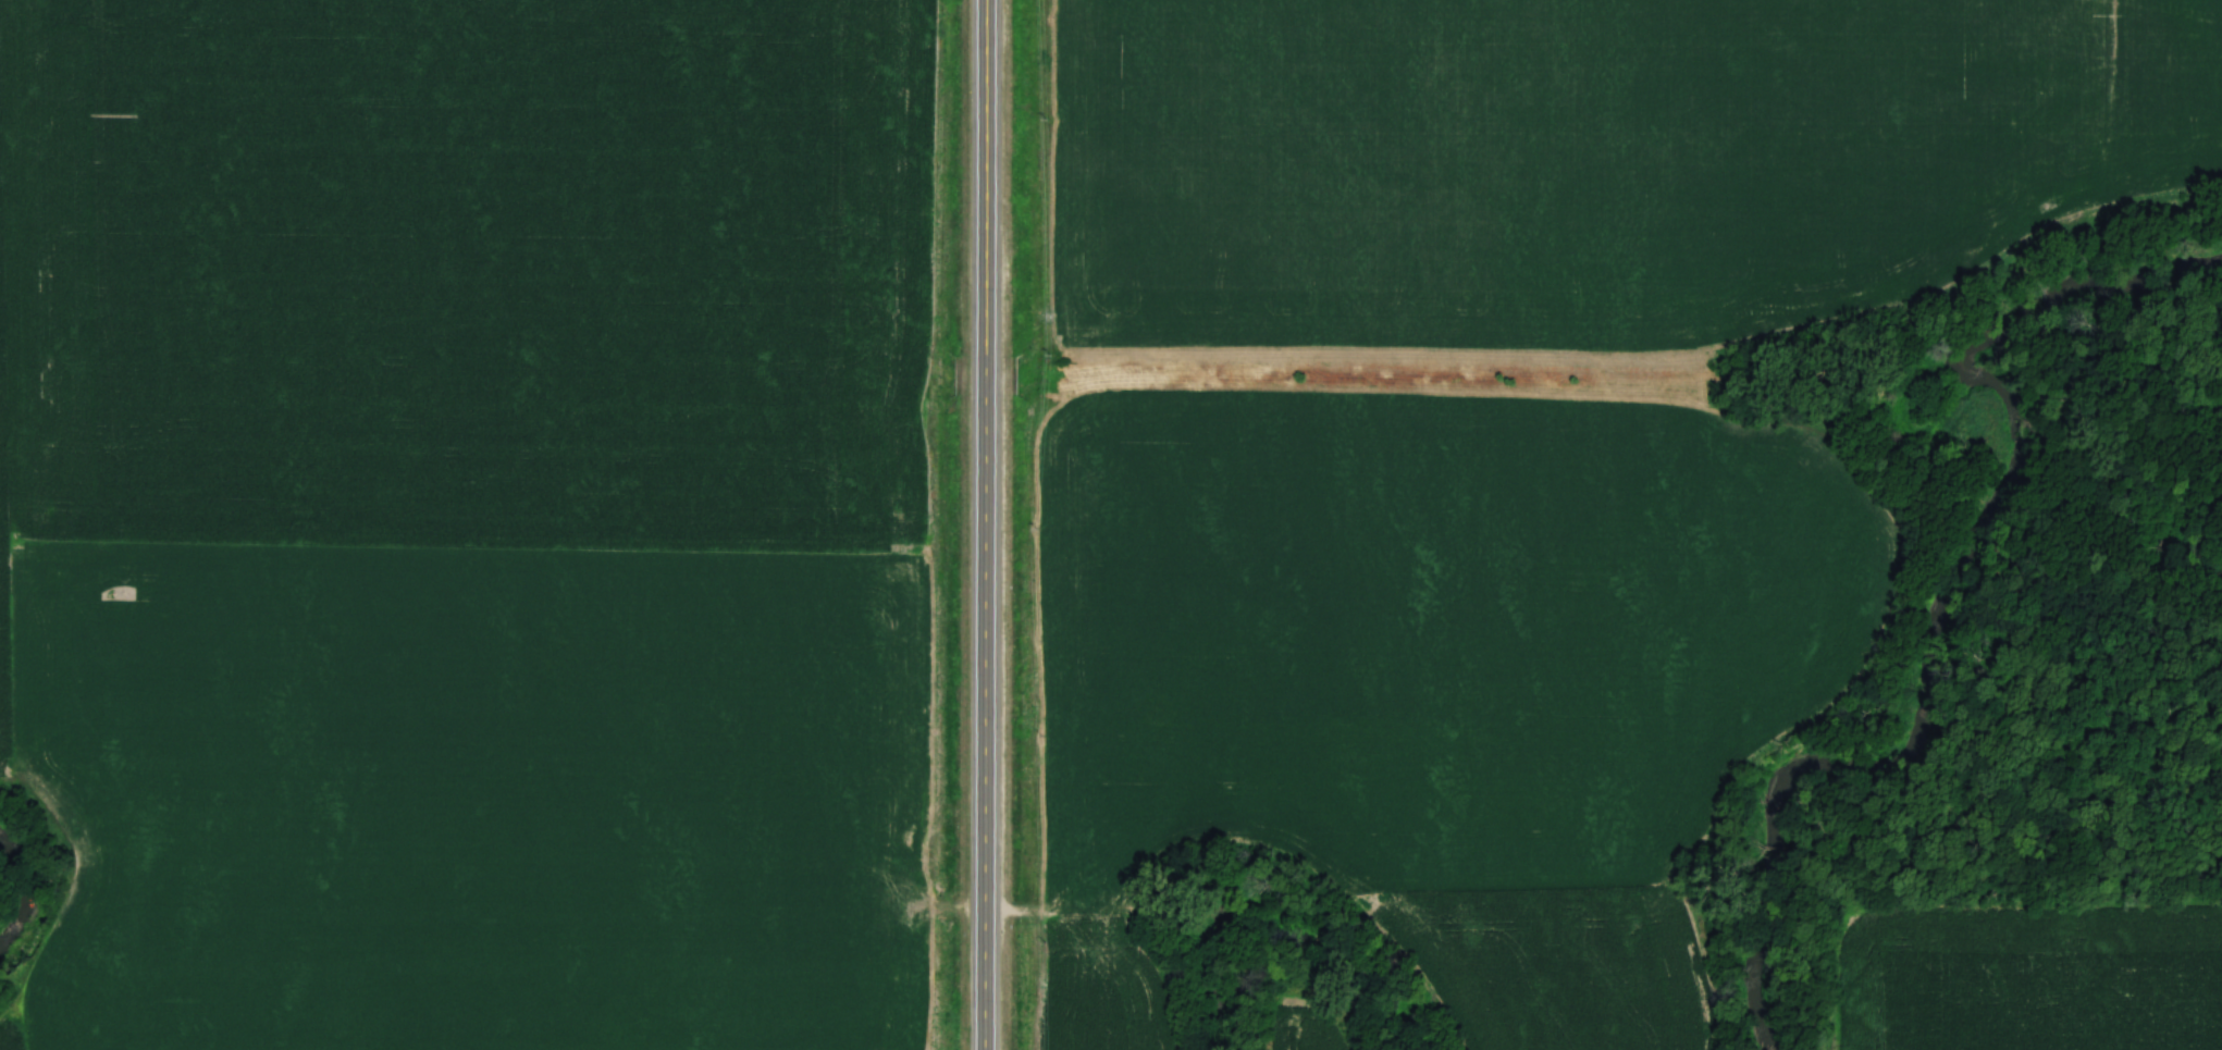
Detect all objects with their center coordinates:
river: (2002, 506)
road: (988, 524)
river: (37, 898)

